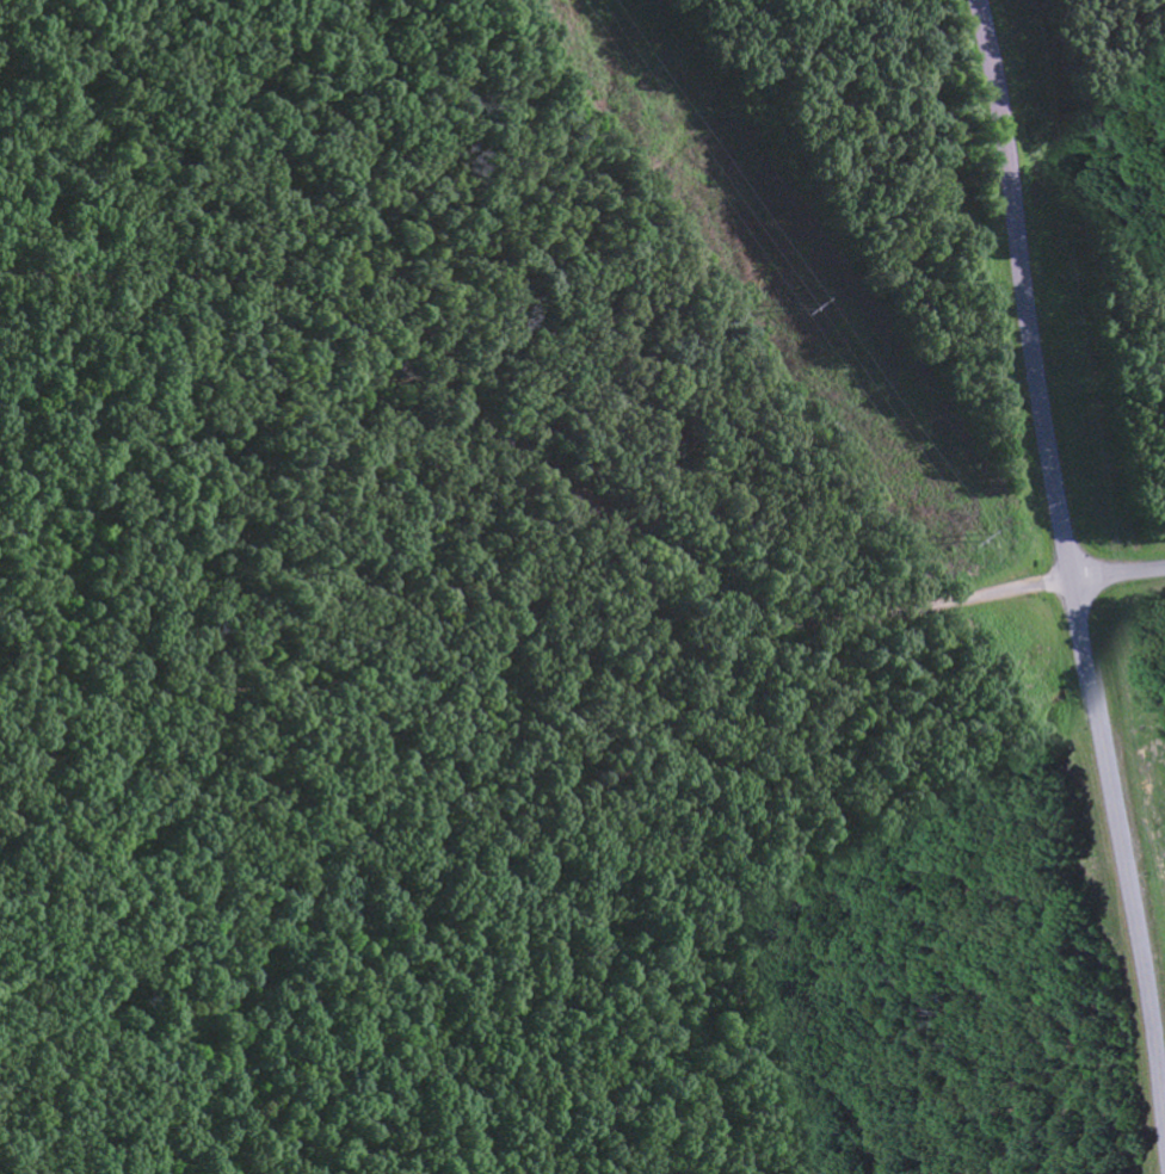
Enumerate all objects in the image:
power tower: (803, 307)
road: (535, 461)
power tower: (969, 539)
road: (1070, 555)
road: (1120, 575)

